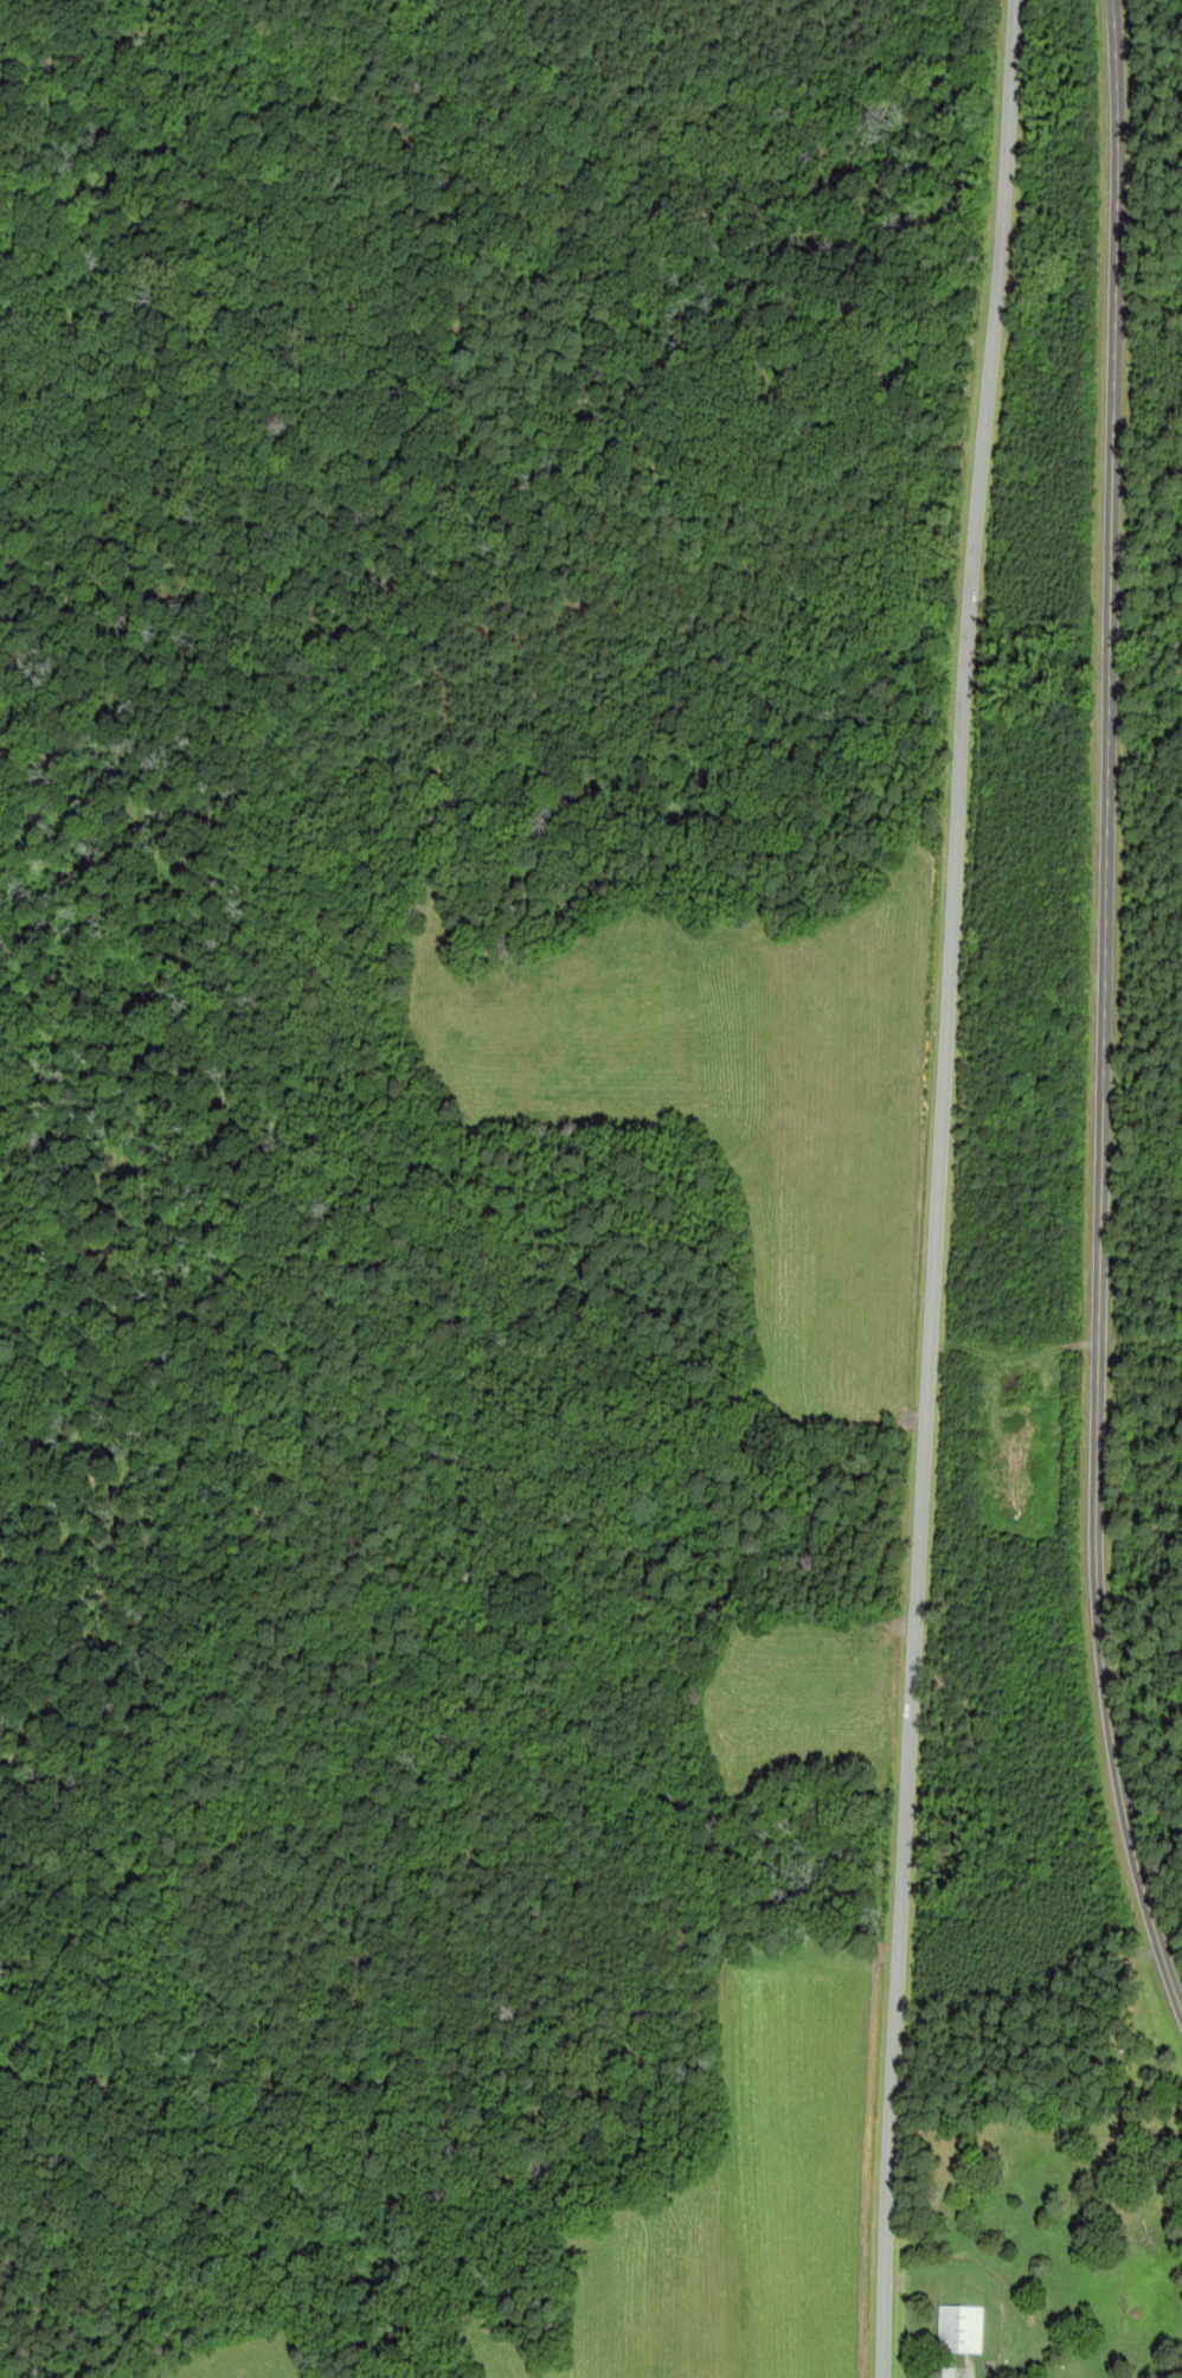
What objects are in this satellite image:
road: (1105, 1008)
road: (939, 1187)
building: (957, 2329)

